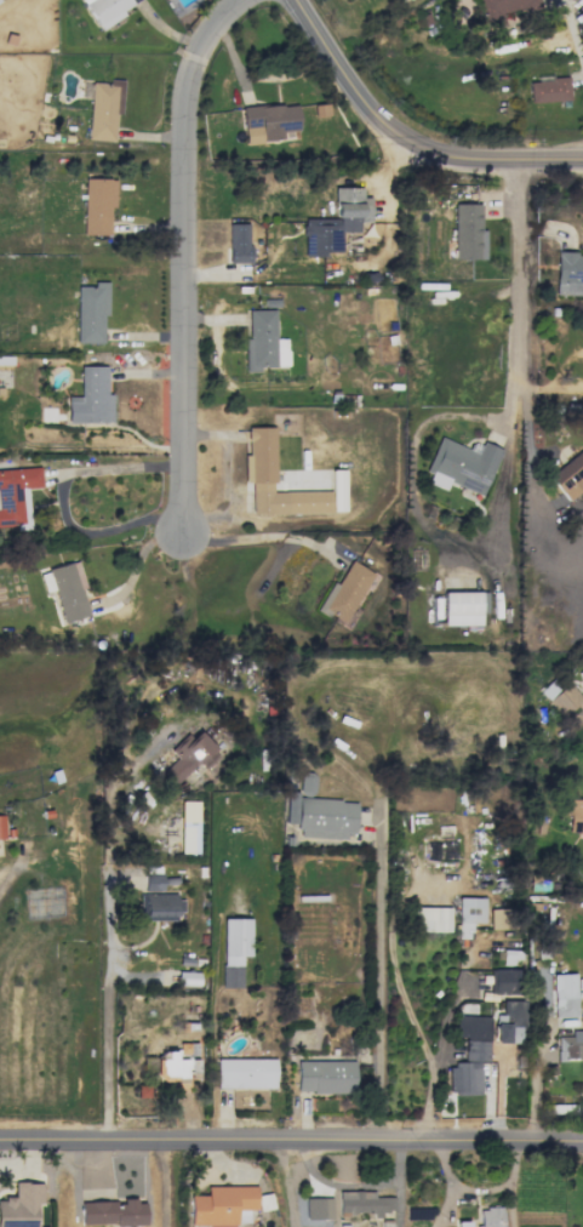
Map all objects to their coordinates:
building: (502, 7)
building: (105, 10)
road: (570, 27)
road: (581, 62)
road: (347, 78)
building: (548, 89)
building: (103, 109)
building: (320, 109)
building: (268, 122)
road: (496, 159)
building: (97, 205)
building: (335, 222)
building: (468, 232)
building: (236, 242)
road: (187, 256)
building: (568, 274)
road: (511, 283)
building: (90, 312)
building: (262, 342)
building: (90, 396)
building: (461, 464)
road: (118, 466)
building: (258, 475)
building: (568, 475)
road: (525, 479)
building: (16, 495)
road: (263, 537)
road: (139, 559)
building: (68, 590)
building: (343, 592)
building: (462, 607)
building: (559, 695)
building: (187, 755)
building: (319, 812)
building: (1, 827)
building: (188, 827)
road: (18, 861)
building: (468, 914)
building: (499, 918)
building: (431, 919)
building: (234, 949)
road: (137, 975)
building: (504, 981)
road: (378, 986)
building: (564, 995)
road: (110, 998)
building: (509, 1023)
building: (570, 1046)
building: (469, 1054)
road: (536, 1055)
building: (176, 1062)
building: (245, 1073)
building: (324, 1077)
road: (502, 1096)
road: (291, 1141)
building: (362, 1203)
building: (221, 1204)
building: (22, 1205)
building: (316, 1208)
building: (112, 1212)
building: (488, 1217)
building: (217, 1226)

